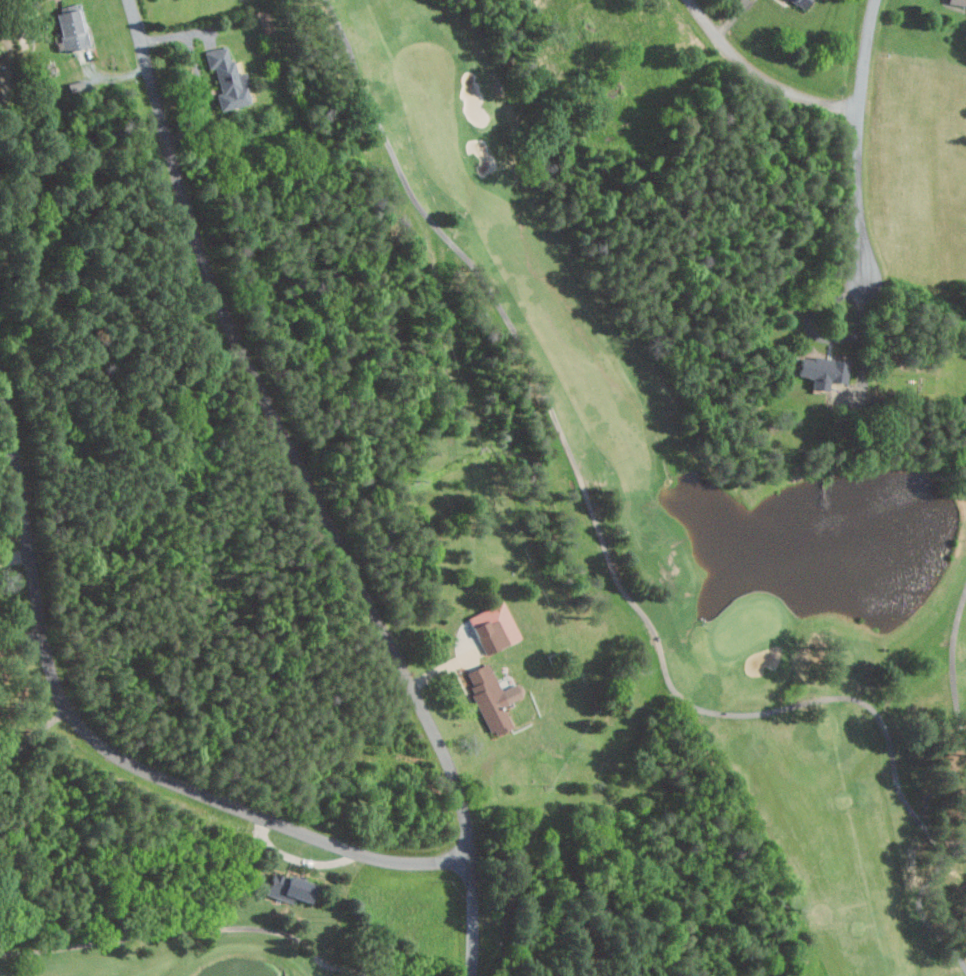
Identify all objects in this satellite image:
building: (957, 2)
building: (799, 3)
building: (70, 28)
road: (761, 76)
building: (226, 79)
road: (859, 193)
road: (812, 318)
building: (821, 371)
park: (483, 488)
road: (310, 489)
road: (609, 555)
building: (492, 627)
building: (491, 698)
road: (35, 735)
road: (105, 745)
building: (286, 885)
road: (178, 946)

